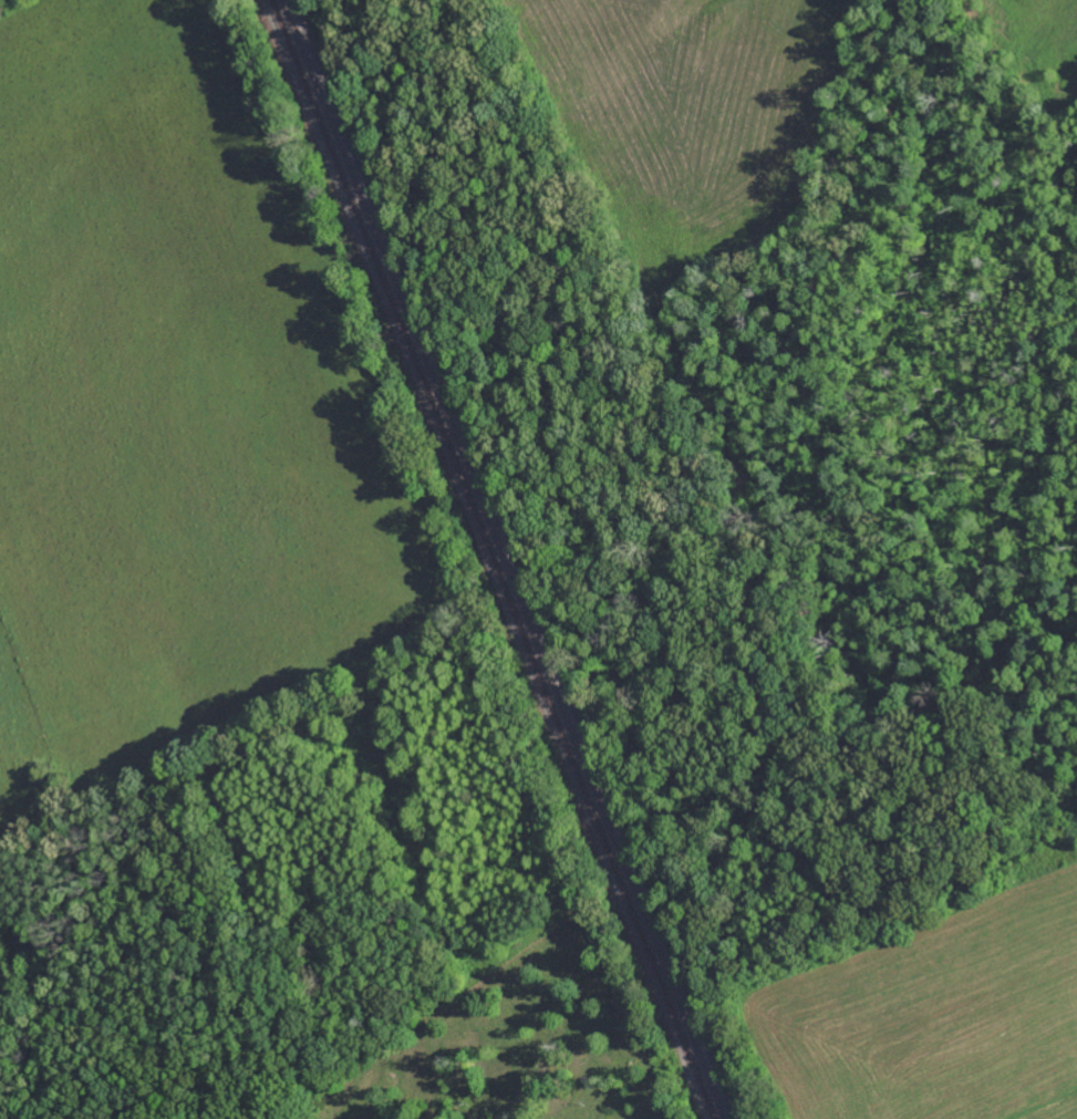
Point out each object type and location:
railway: (494, 558)
railway: (505, 559)
road: (21, 1053)

